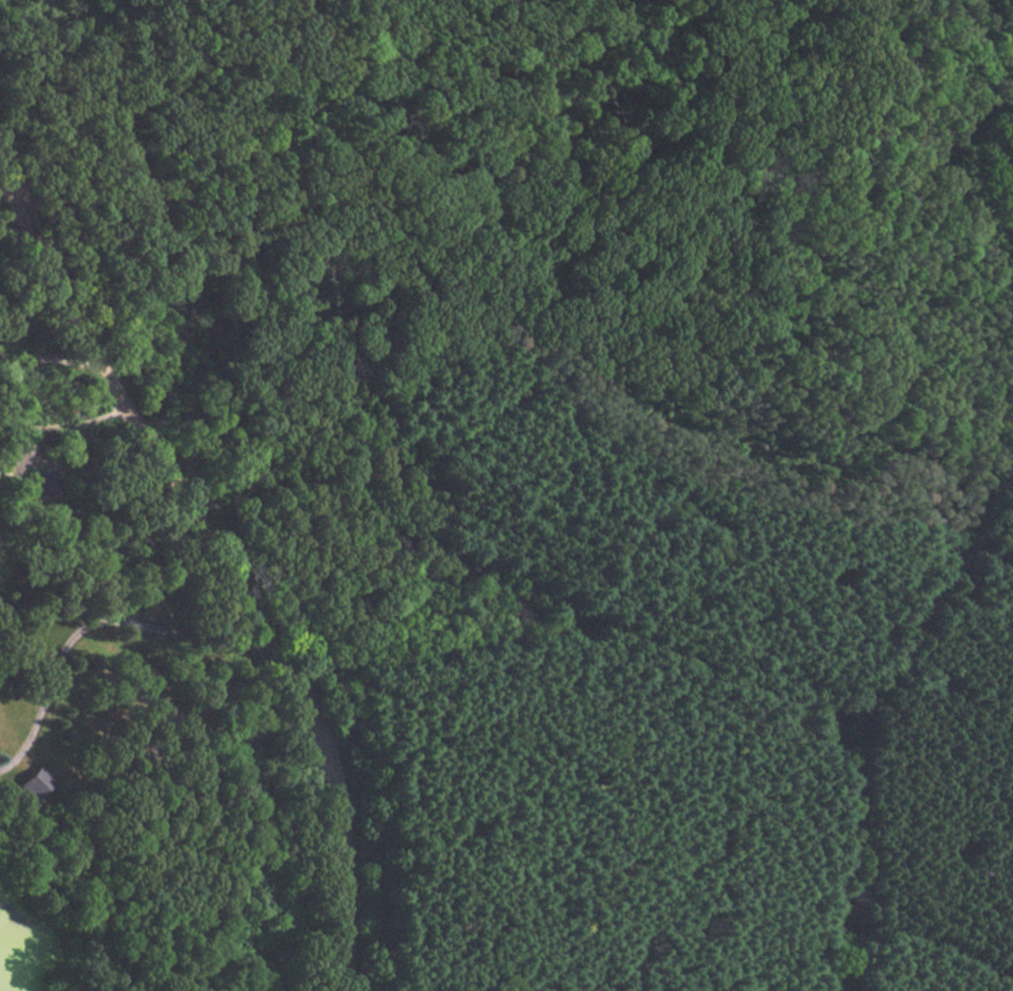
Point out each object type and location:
road: (47, 360)
road: (63, 426)
building: (47, 483)
road: (954, 532)
road: (222, 566)
road: (93, 623)
building: (35, 783)

